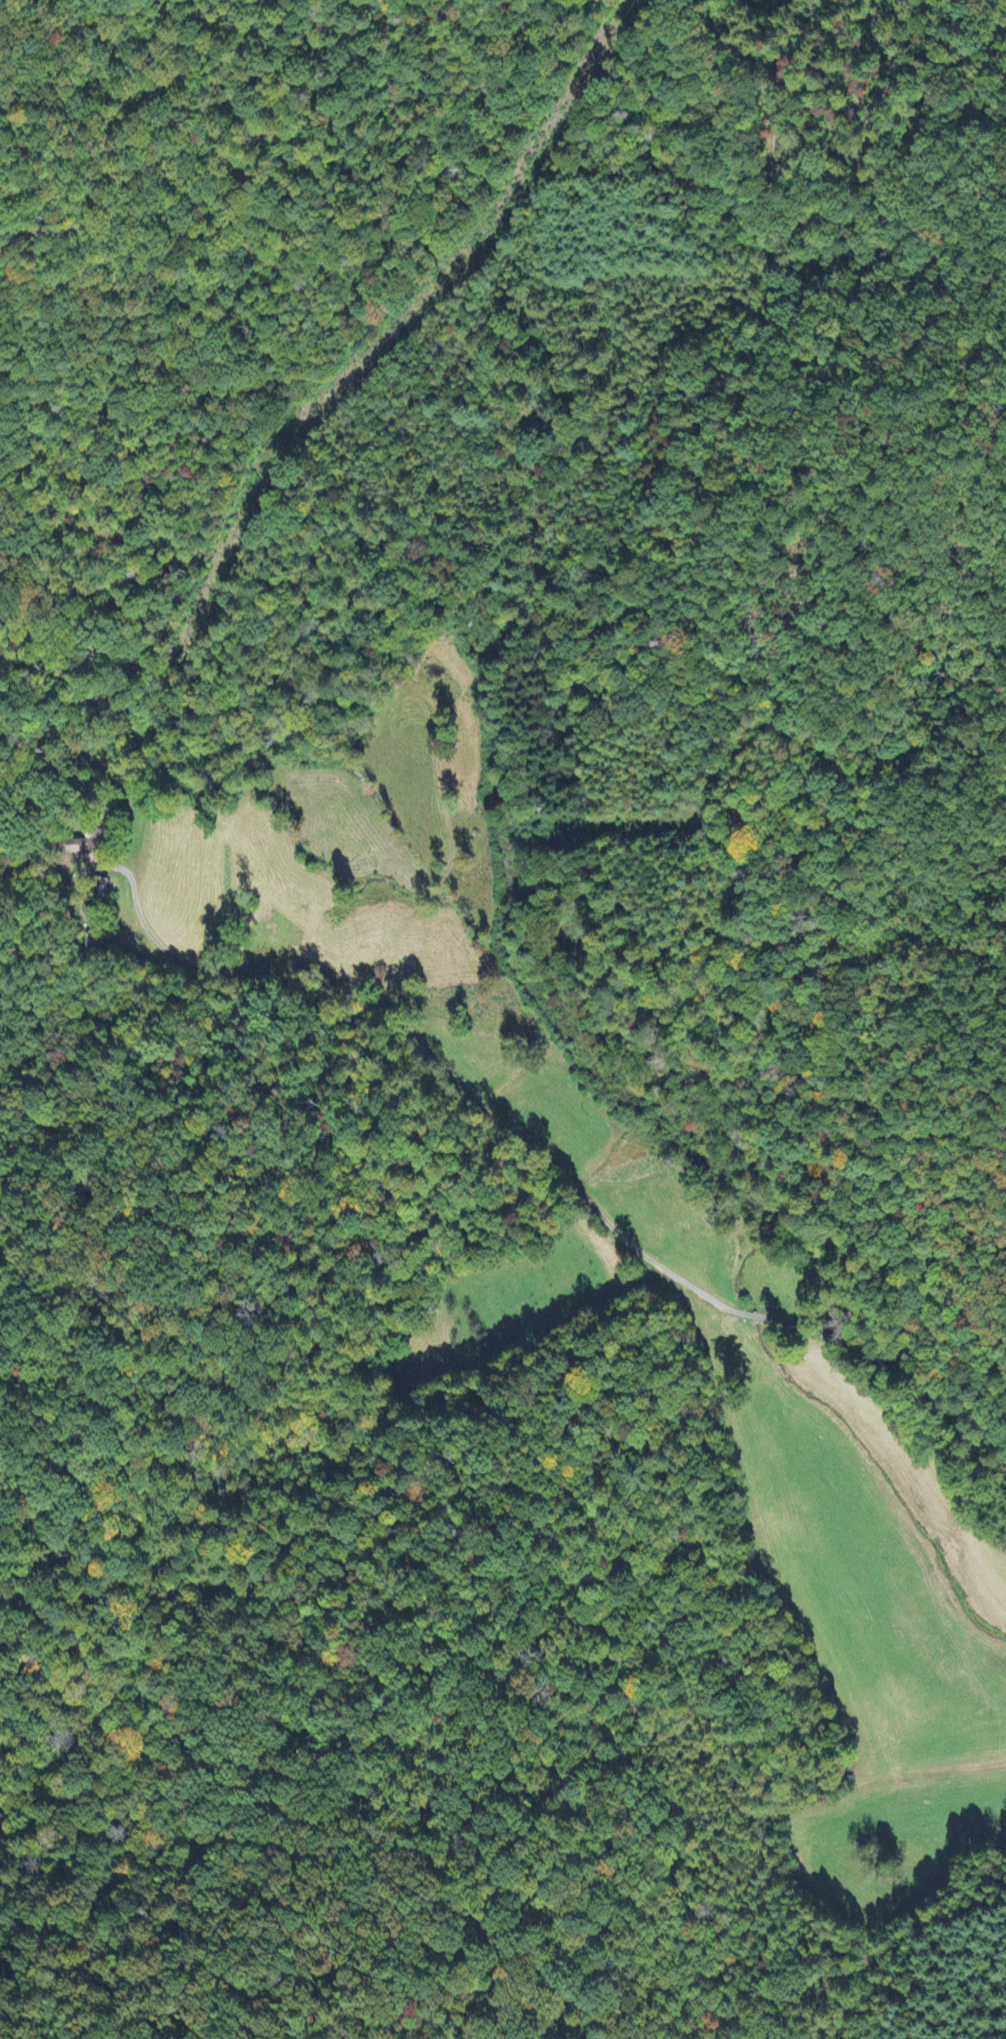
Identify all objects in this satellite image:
road: (552, 1166)

